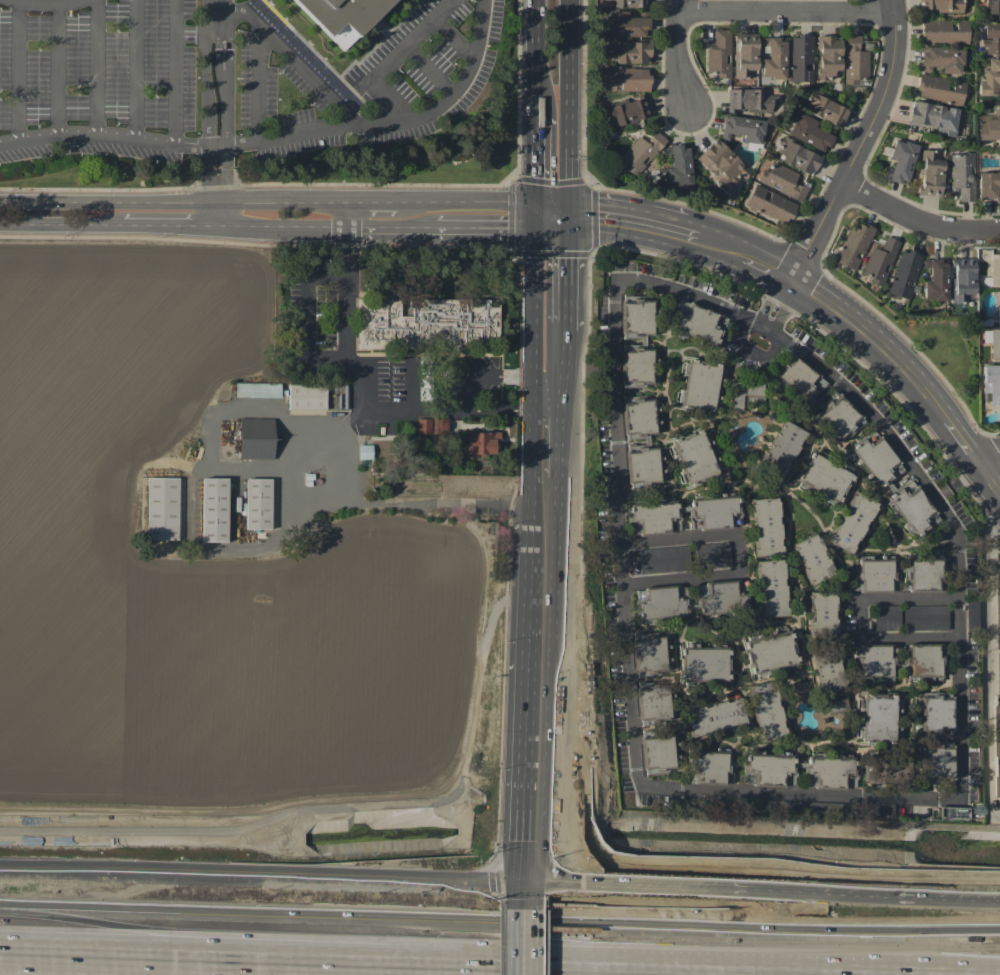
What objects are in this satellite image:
road: (214, 4)
building: (940, 5)
building: (992, 6)
road: (50, 7)
road: (785, 12)
building: (341, 15)
road: (537, 24)
building: (624, 24)
building: (944, 32)
building: (629, 51)
building: (719, 54)
road: (288, 55)
road: (680, 55)
building: (745, 55)
building: (828, 56)
road: (386, 57)
building: (800, 57)
building: (773, 58)
building: (942, 59)
building: (855, 60)
road: (97, 67)
road: (135, 69)
road: (58, 70)
road: (21, 72)
road: (175, 72)
road: (206, 75)
road: (225, 75)
building: (991, 77)
parking lot: (229, 78)
building: (625, 79)
road: (536, 81)
road: (254, 83)
building: (940, 89)
building: (748, 100)
road: (571, 107)
building: (825, 109)
building: (627, 112)
building: (934, 117)
road: (392, 119)
building: (989, 126)
building: (743, 128)
building: (809, 132)
road: (103, 135)
road: (217, 144)
road: (859, 144)
building: (641, 152)
building: (798, 157)
building: (900, 162)
road: (536, 163)
building: (722, 164)
building: (676, 168)
traffic signals: (536, 171)
building: (930, 172)
road: (209, 173)
road: (225, 173)
building: (962, 175)
building: (782, 181)
building: (988, 185)
road: (108, 201)
road: (373, 201)
road: (469, 201)
road: (281, 202)
building: (770, 204)
road: (215, 213)
road: (347, 214)
road: (553, 214)
road: (918, 214)
traffic signals: (600, 217)
road: (608, 217)
road: (60, 223)
road: (168, 224)
road: (281, 225)
road: (364, 226)
road: (409, 227)
road: (488, 227)
traffic signals: (505, 228)
road: (672, 230)
road: (712, 243)
building: (853, 245)
traffic signals: (570, 259)
building: (880, 261)
road: (759, 264)
building: (995, 270)
road: (570, 271)
building: (904, 273)
building: (962, 278)
building: (936, 280)
road: (535, 281)
road: (778, 303)
building: (998, 306)
road: (310, 317)
road: (847, 317)
building: (425, 322)
building: (699, 323)
building: (642, 339)
building: (995, 343)
road: (569, 353)
road: (535, 362)
road: (354, 369)
road: (484, 376)
road: (552, 376)
road: (911, 378)
building: (798, 380)
building: (992, 382)
building: (700, 384)
building: (257, 390)
building: (745, 392)
road: (535, 393)
road: (569, 394)
building: (306, 396)
road: (250, 408)
road: (500, 410)
road: (552, 410)
building: (838, 417)
building: (424, 426)
building: (439, 426)
road: (951, 428)
road: (569, 436)
building: (255, 438)
building: (647, 441)
building: (481, 443)
road: (335, 450)
building: (365, 451)
building: (781, 451)
road: (534, 456)
building: (692, 456)
road: (988, 458)
road: (569, 475)
building: (826, 478)
road: (988, 481)
building: (906, 487)
building: (258, 503)
road: (434, 503)
building: (162, 508)
building: (214, 509)
road: (533, 511)
building: (654, 515)
road: (194, 516)
building: (853, 522)
building: (766, 526)
road: (989, 530)
road: (737, 553)
building: (712, 555)
building: (664, 559)
building: (813, 559)
building: (874, 573)
building: (925, 573)
crop: (191, 579)
building: (772, 588)
building: (722, 597)
building: (661, 602)
building: (997, 602)
road: (529, 612)
building: (822, 614)
road: (860, 617)
building: (887, 617)
building: (772, 652)
building: (651, 653)
building: (874, 661)
building: (925, 661)
building: (706, 666)
building: (828, 671)
building: (998, 673)
road: (569, 686)
road: (989, 686)
building: (653, 701)
building: (835, 706)
building: (766, 711)
building: (878, 716)
building: (716, 717)
building: (996, 730)
building: (929, 738)
building: (657, 753)
building: (712, 767)
building: (886, 768)
building: (770, 769)
building: (828, 772)
building: (997, 788)
road: (523, 793)
road: (804, 794)
building: (819, 807)
building: (952, 813)
traffic signals: (521, 863)
road: (260, 875)
road: (545, 884)
traffic signals: (592, 886)
road: (657, 888)
road: (521, 896)
road: (872, 896)
road: (570, 897)
traffic signals: (571, 913)
road: (499, 921)
road: (520, 942)
road: (570, 942)
road: (53, 951)
road: (553, 962)

